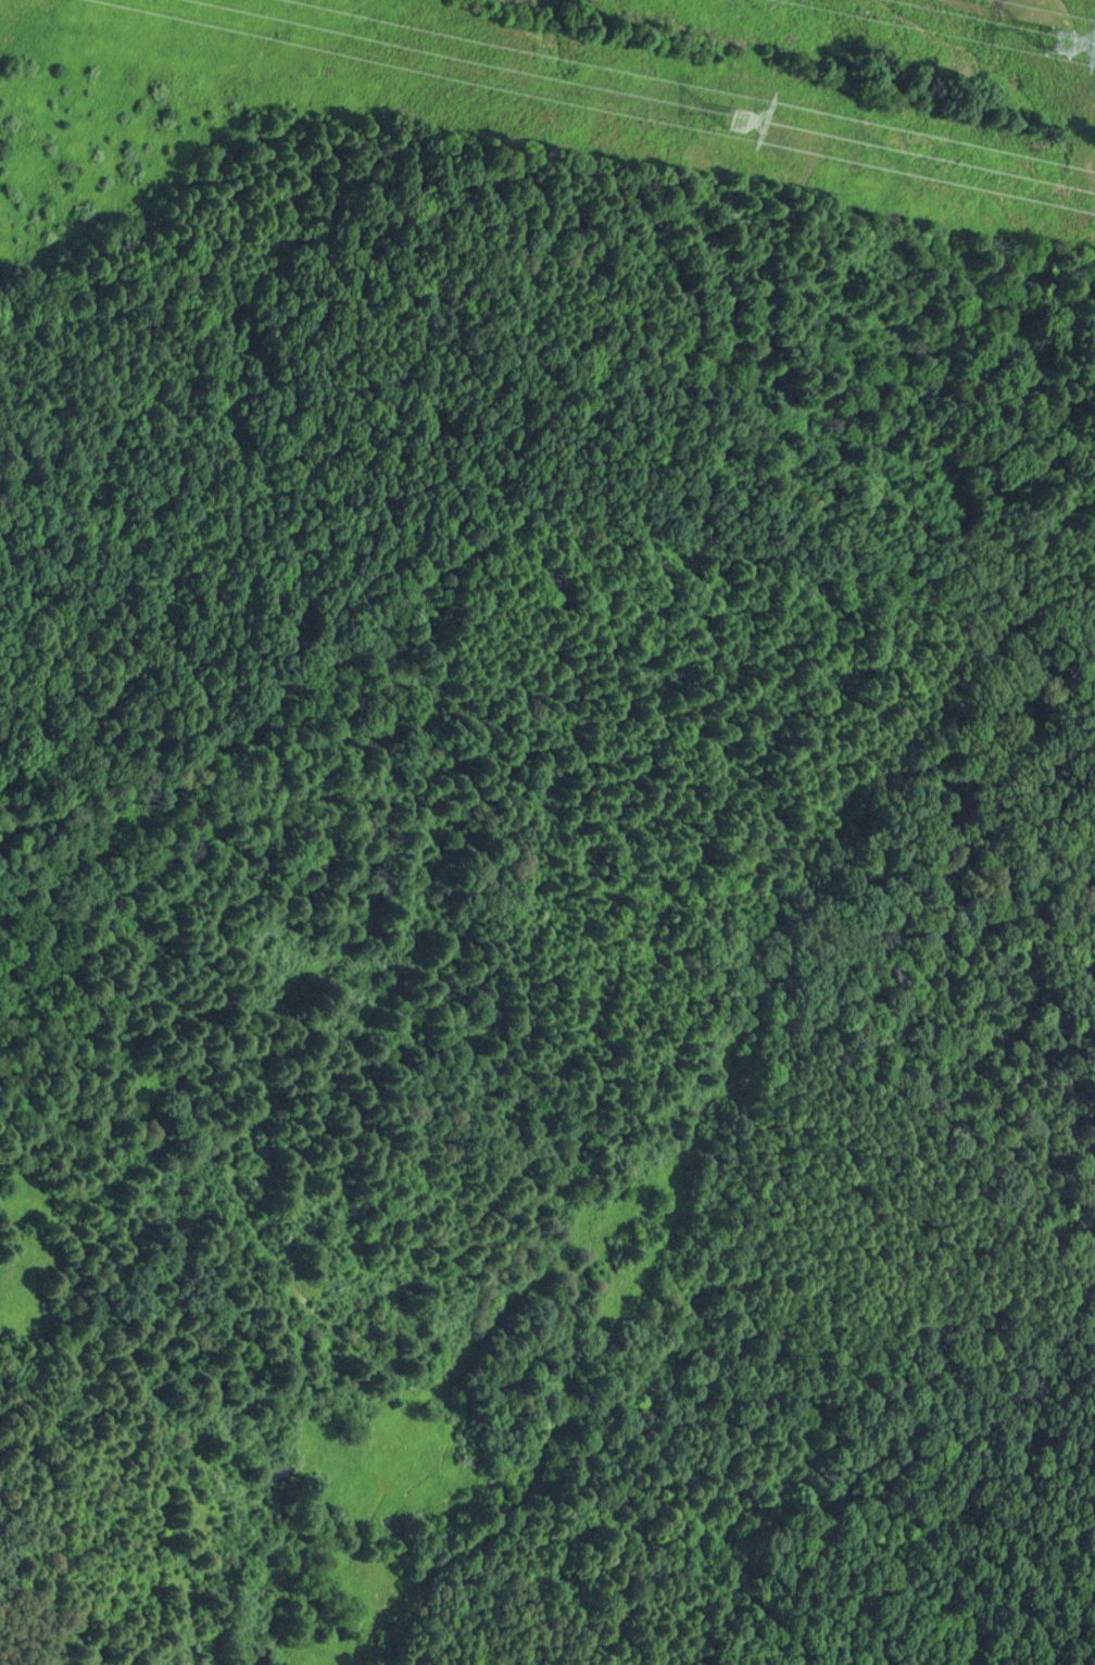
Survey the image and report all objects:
power tower: (1058, 42)
power tower: (740, 124)

